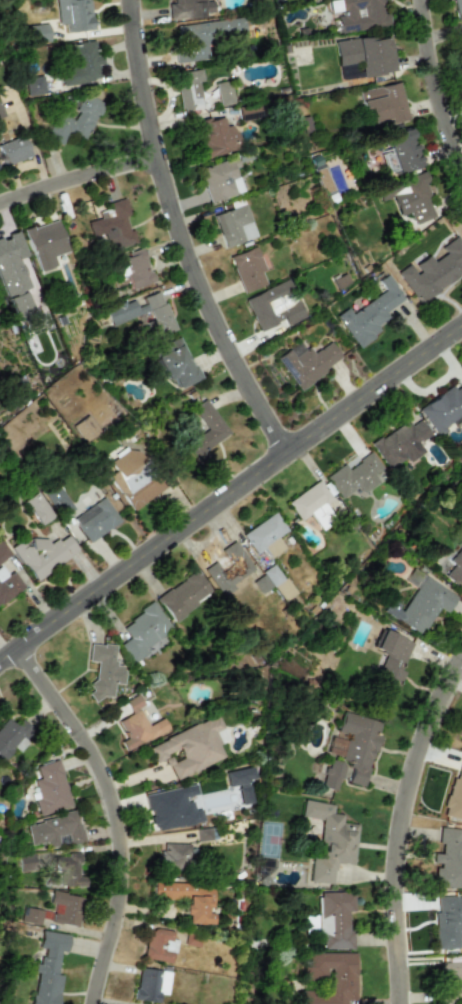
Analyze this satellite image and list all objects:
building: (457, 8)
building: (189, 9)
building: (73, 14)
building: (361, 15)
building: (38, 33)
building: (203, 36)
building: (461, 41)
building: (366, 54)
building: (81, 64)
building: (34, 85)
road: (433, 87)
building: (189, 89)
building: (224, 93)
building: (383, 103)
building: (1, 112)
building: (74, 121)
building: (216, 136)
building: (13, 150)
building: (400, 151)
building: (220, 179)
building: (322, 179)
road: (75, 181)
building: (409, 197)
building: (113, 225)
building: (233, 225)
road: (177, 236)
building: (45, 243)
building: (12, 265)
building: (133, 269)
building: (247, 269)
building: (436, 270)
building: (21, 305)
building: (273, 306)
building: (144, 313)
building: (366, 317)
building: (306, 362)
building: (174, 363)
building: (443, 409)
building: (205, 431)
building: (399, 443)
building: (354, 475)
building: (134, 478)
road: (230, 490)
building: (57, 499)
building: (311, 504)
building: (37, 508)
building: (95, 520)
building: (265, 535)
building: (3, 551)
building: (43, 554)
building: (228, 568)
building: (455, 568)
building: (278, 582)
building: (8, 585)
building: (183, 595)
building: (420, 605)
building: (143, 631)
building: (389, 664)
building: (103, 670)
building: (138, 725)
building: (12, 736)
building: (358, 745)
building: (189, 747)
building: (332, 775)
building: (236, 777)
building: (50, 788)
building: (455, 793)
building: (172, 807)
road: (112, 812)
road: (399, 823)
building: (54, 830)
building: (329, 840)
building: (173, 858)
building: (448, 859)
building: (26, 862)
building: (264, 868)
building: (69, 871)
building: (187, 898)
building: (65, 908)
building: (31, 916)
building: (334, 919)
building: (447, 920)
building: (159, 945)
building: (48, 968)
building: (342, 974)
building: (449, 981)
building: (150, 984)

